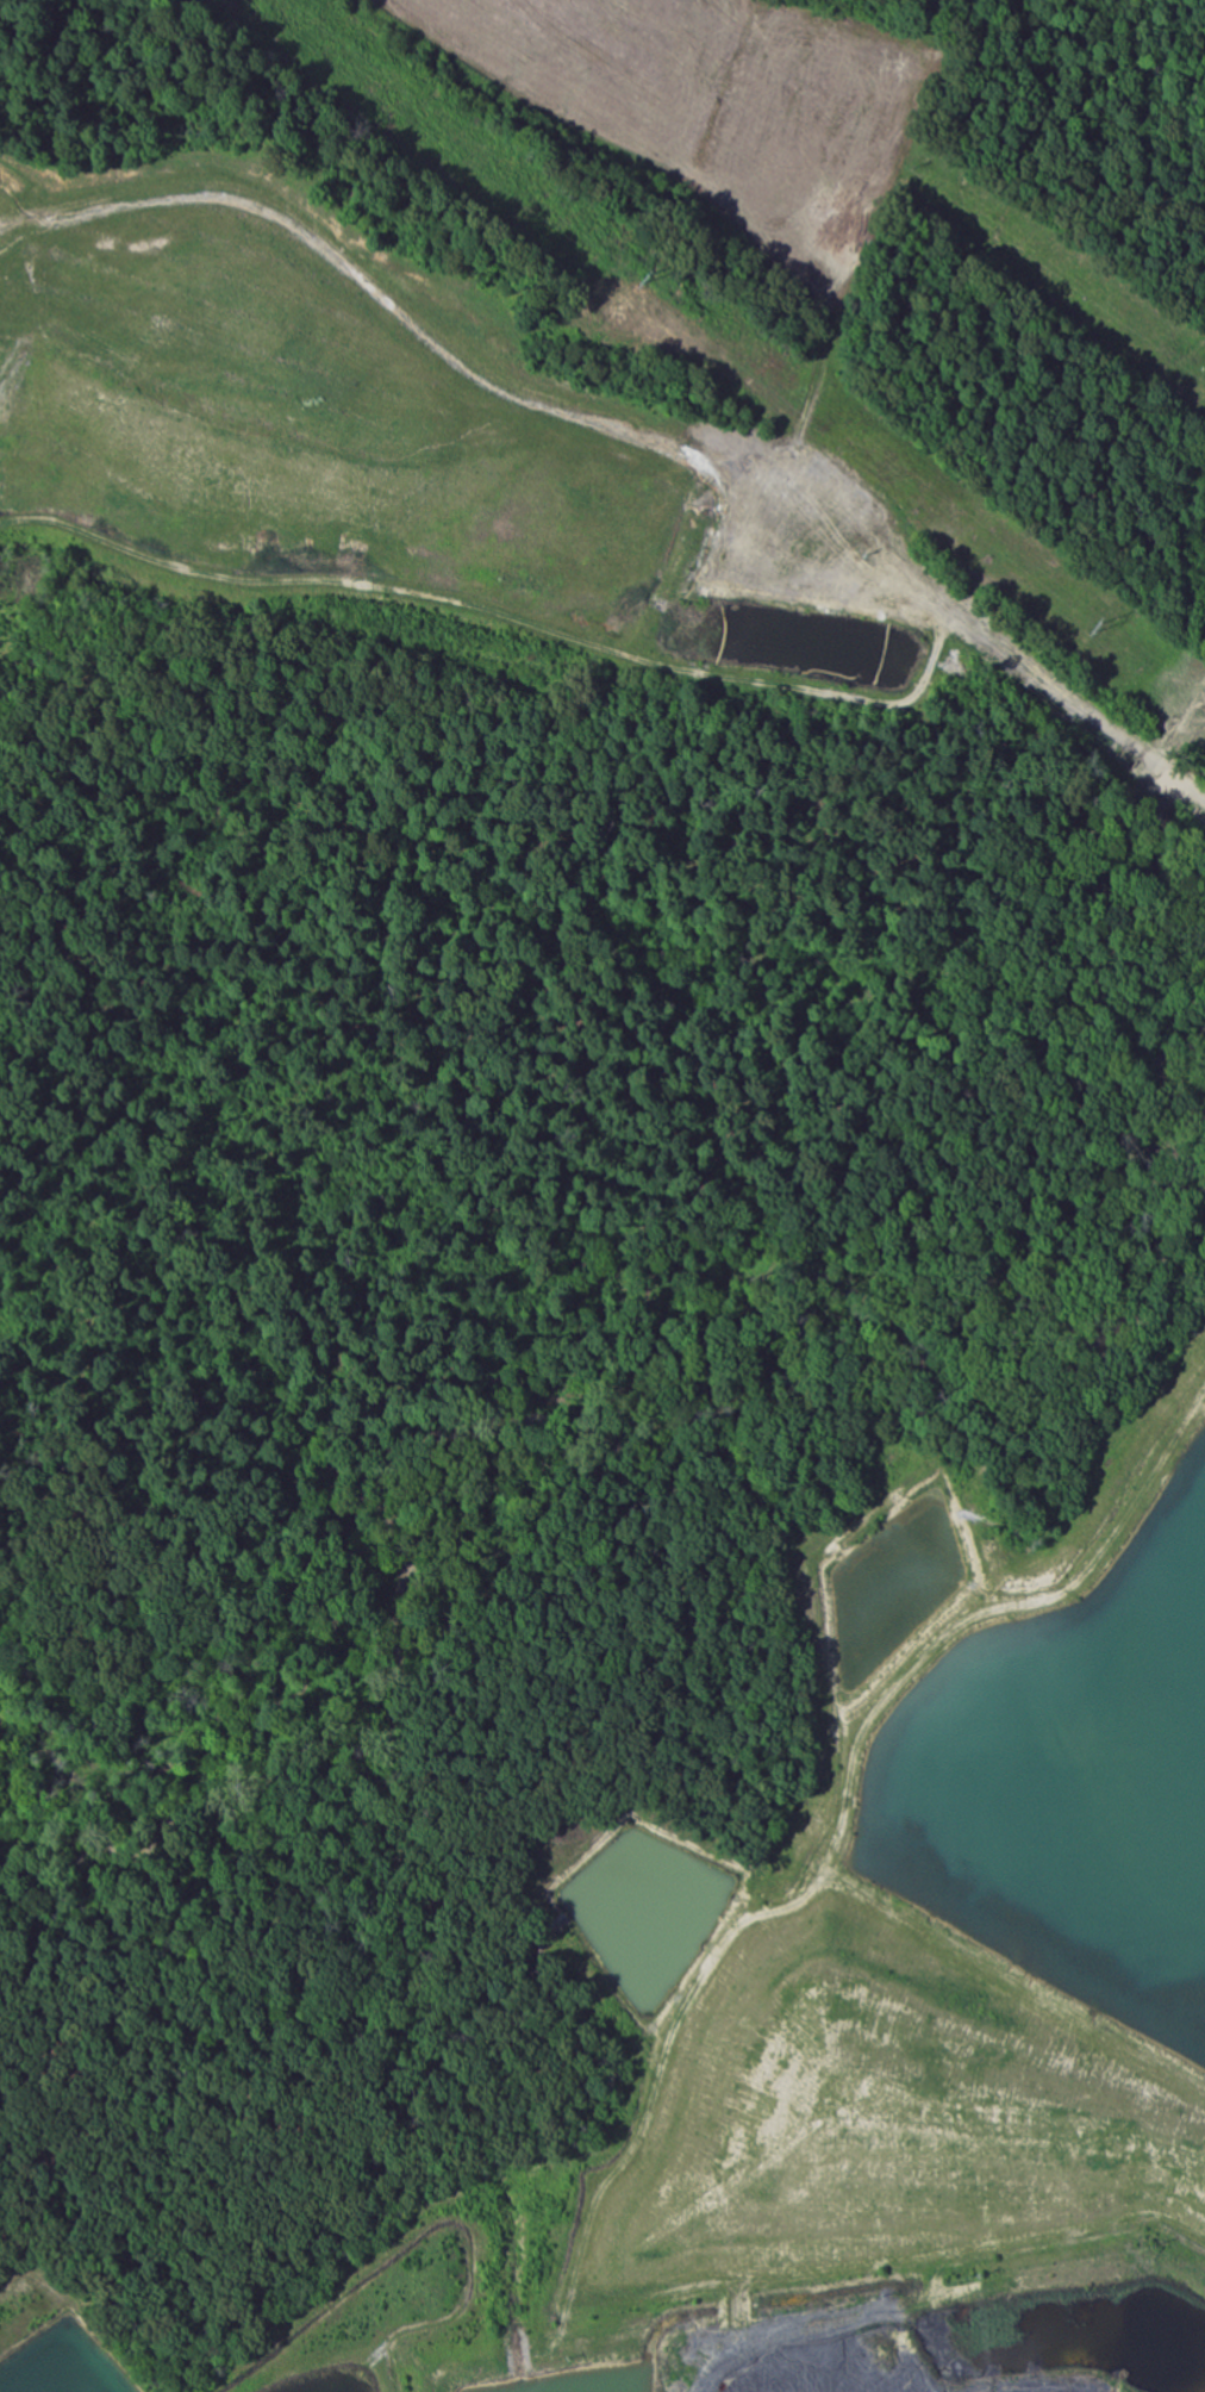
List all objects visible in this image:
quarry: (416, 451)
road: (173, 1170)
quarry: (888, 2331)

